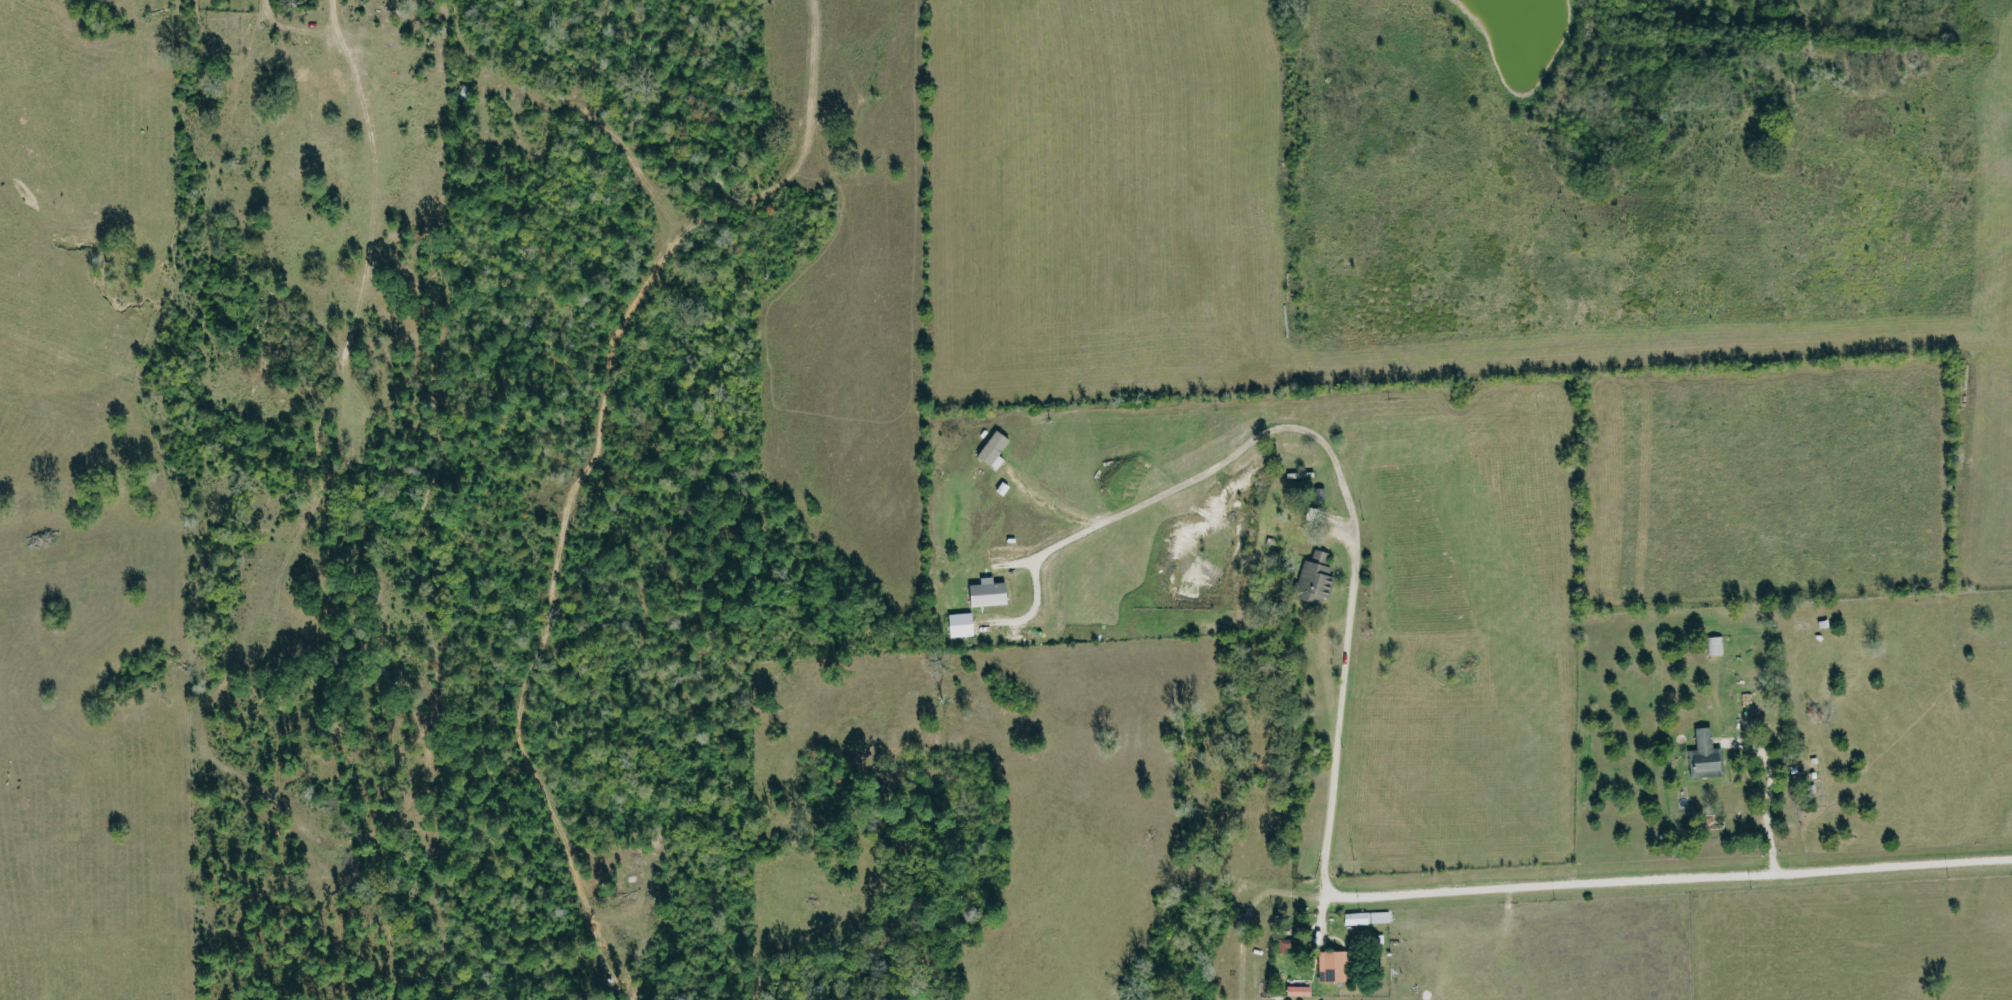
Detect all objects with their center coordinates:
building: (991, 449)
building: (1312, 578)
building: (985, 592)
building: (957, 624)
building: (1714, 645)
building: (1704, 755)
road: (1689, 878)
building: (1364, 917)
building: (1330, 965)
building: (1296, 991)

